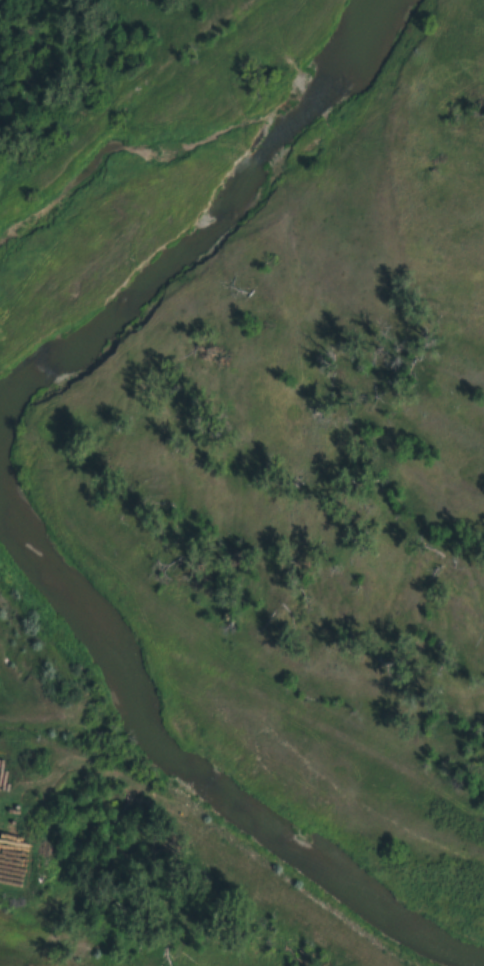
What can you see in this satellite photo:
river: (207, 216)
river: (195, 778)

